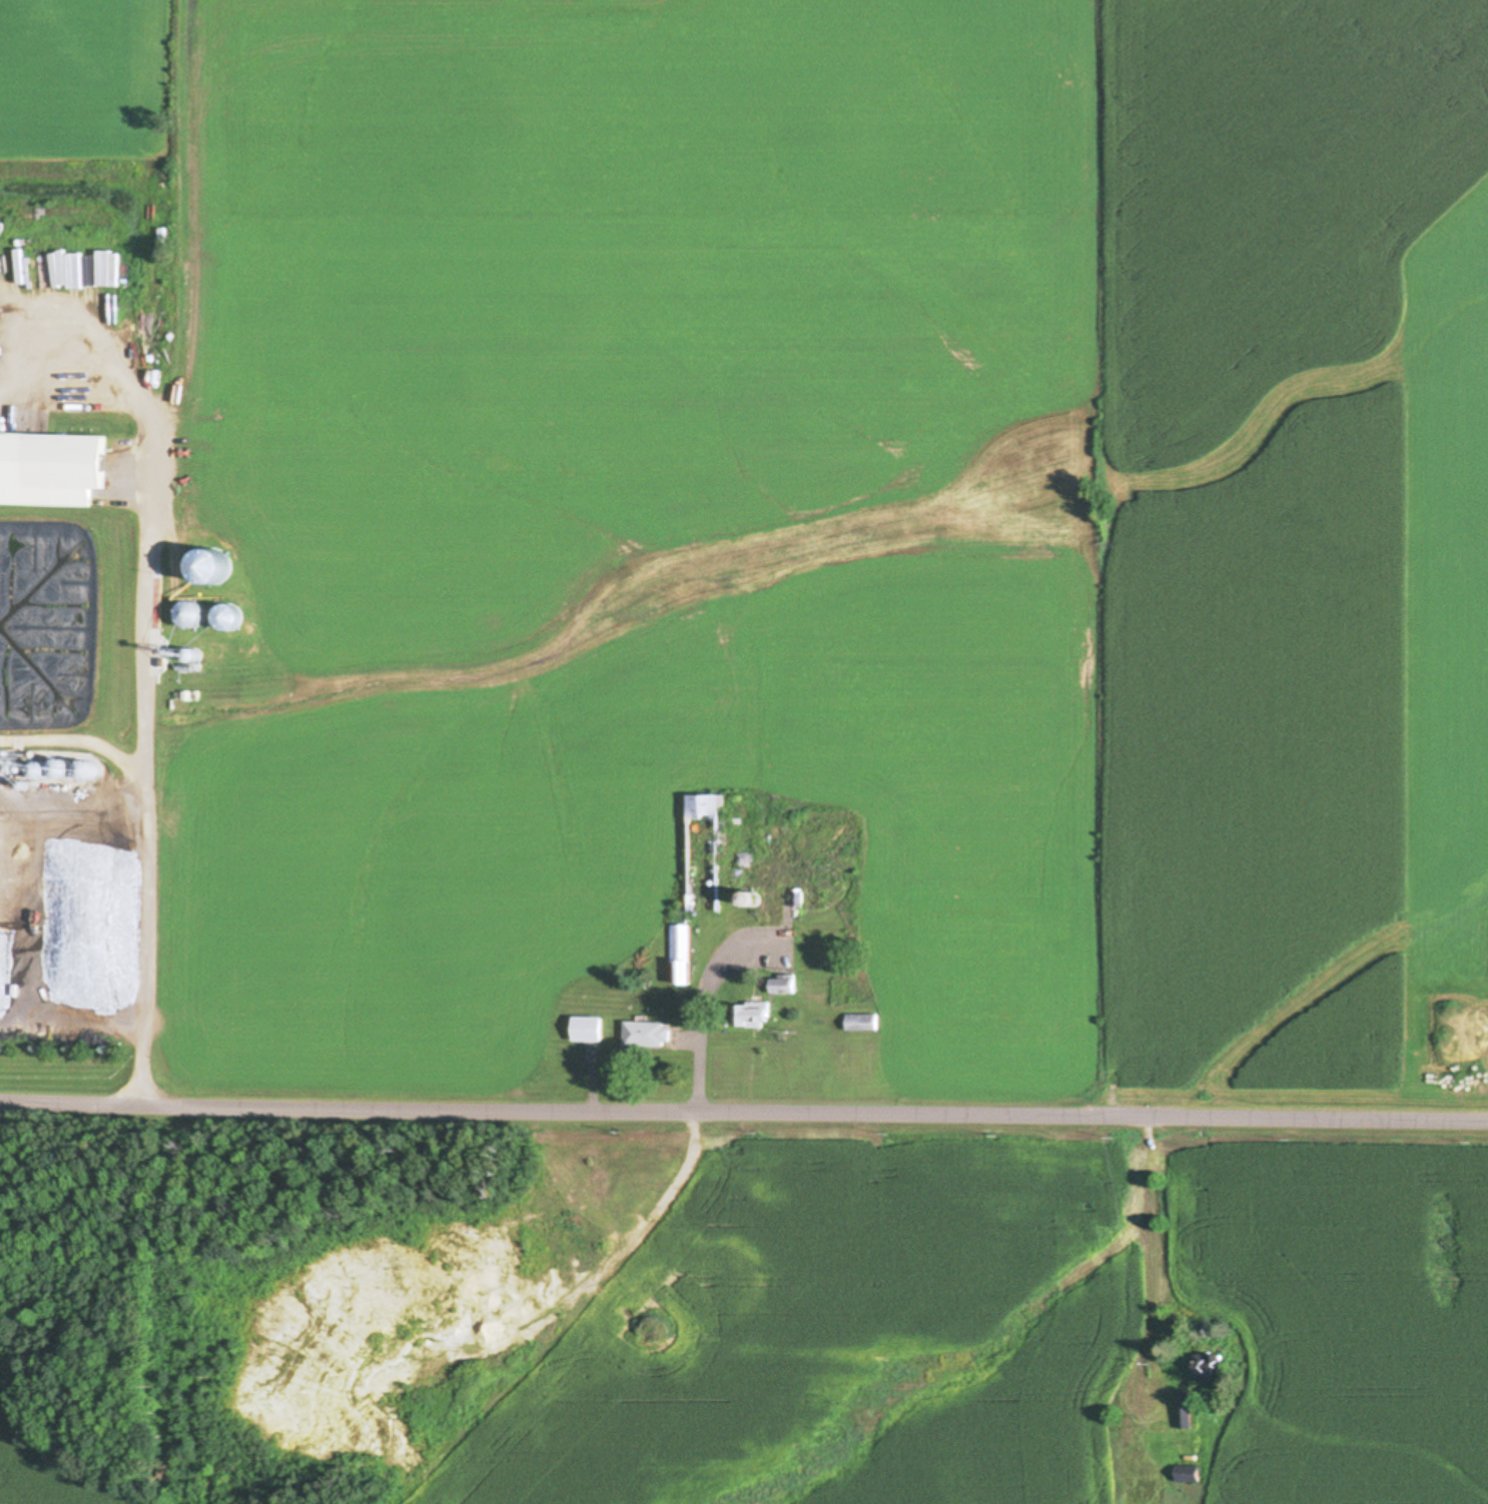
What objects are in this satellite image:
building: (66, 459)
crop: (816, 503)
road: (143, 662)
building: (63, 769)
building: (87, 770)
road: (72, 801)
building: (705, 854)
building: (783, 877)
building: (682, 953)
building: (786, 985)
road: (699, 1012)
building: (756, 1016)
building: (589, 1030)
building: (648, 1034)
road: (743, 1110)
crop: (1004, 1326)
building: (1207, 1365)
building: (1186, 1409)
crop: (37, 1466)
building: (1189, 1478)

